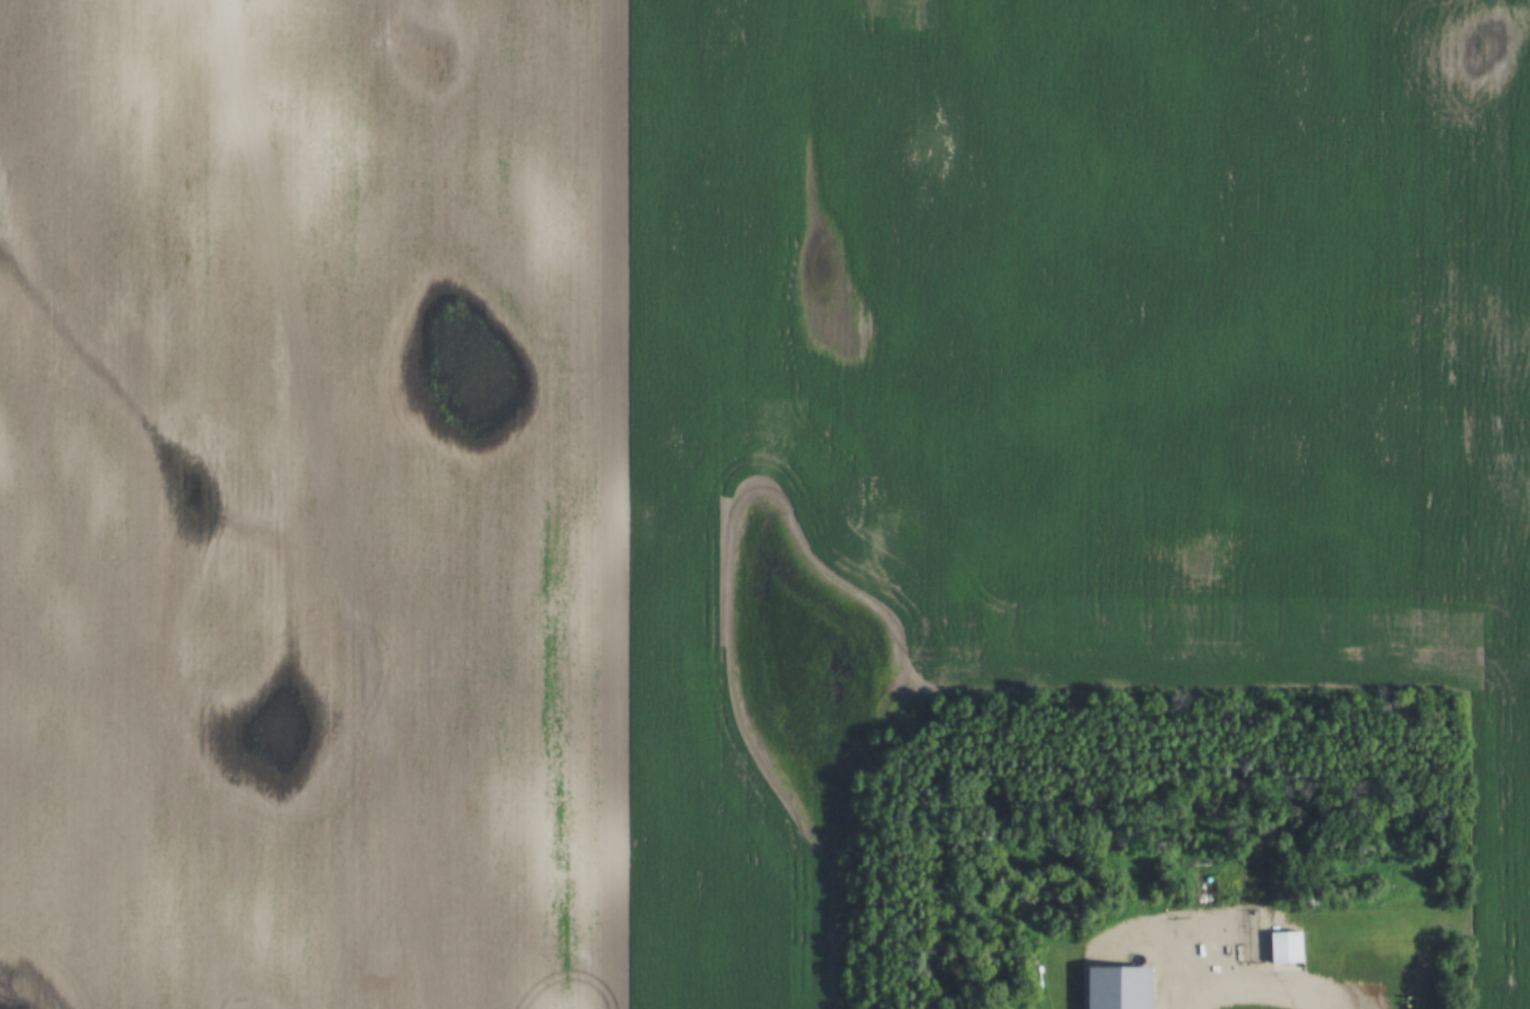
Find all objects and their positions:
building: (1285, 951)
road: (1252, 977)

